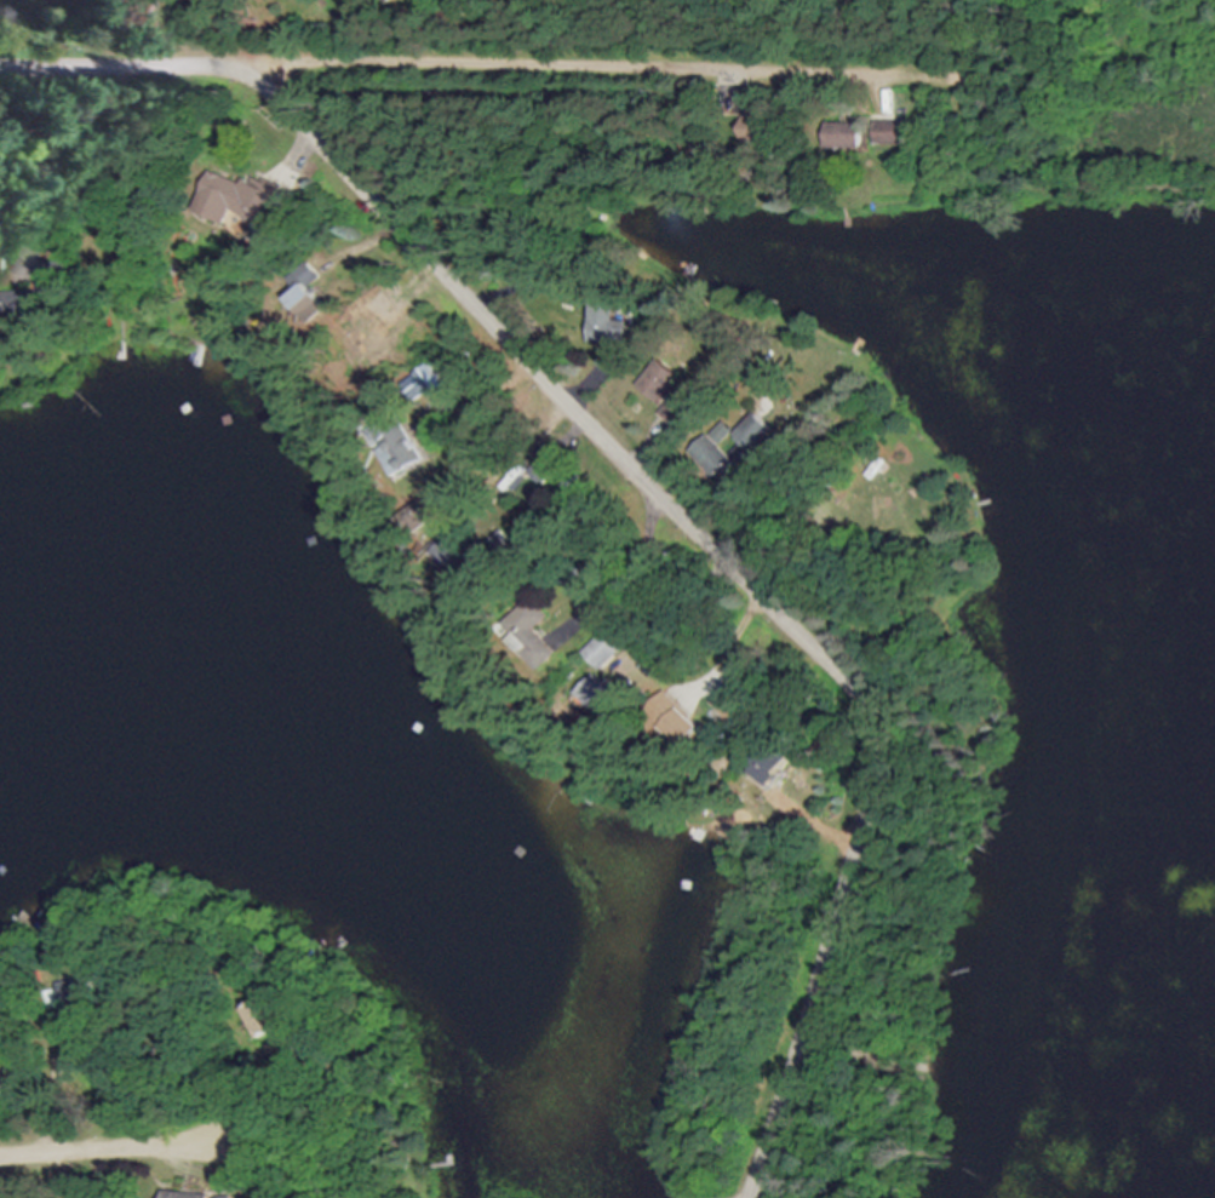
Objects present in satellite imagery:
road: (499, 67)
building: (755, 128)
building: (887, 133)
building: (839, 136)
building: (241, 202)
building: (52, 275)
building: (304, 302)
building: (607, 326)
building: (664, 392)
building: (734, 452)
road: (730, 574)
building: (598, 654)
building: (595, 694)
building: (727, 707)
building: (670, 721)
building: (768, 764)
building: (259, 1018)
building: (1, 1094)
road: (109, 1150)
building: (189, 1196)

